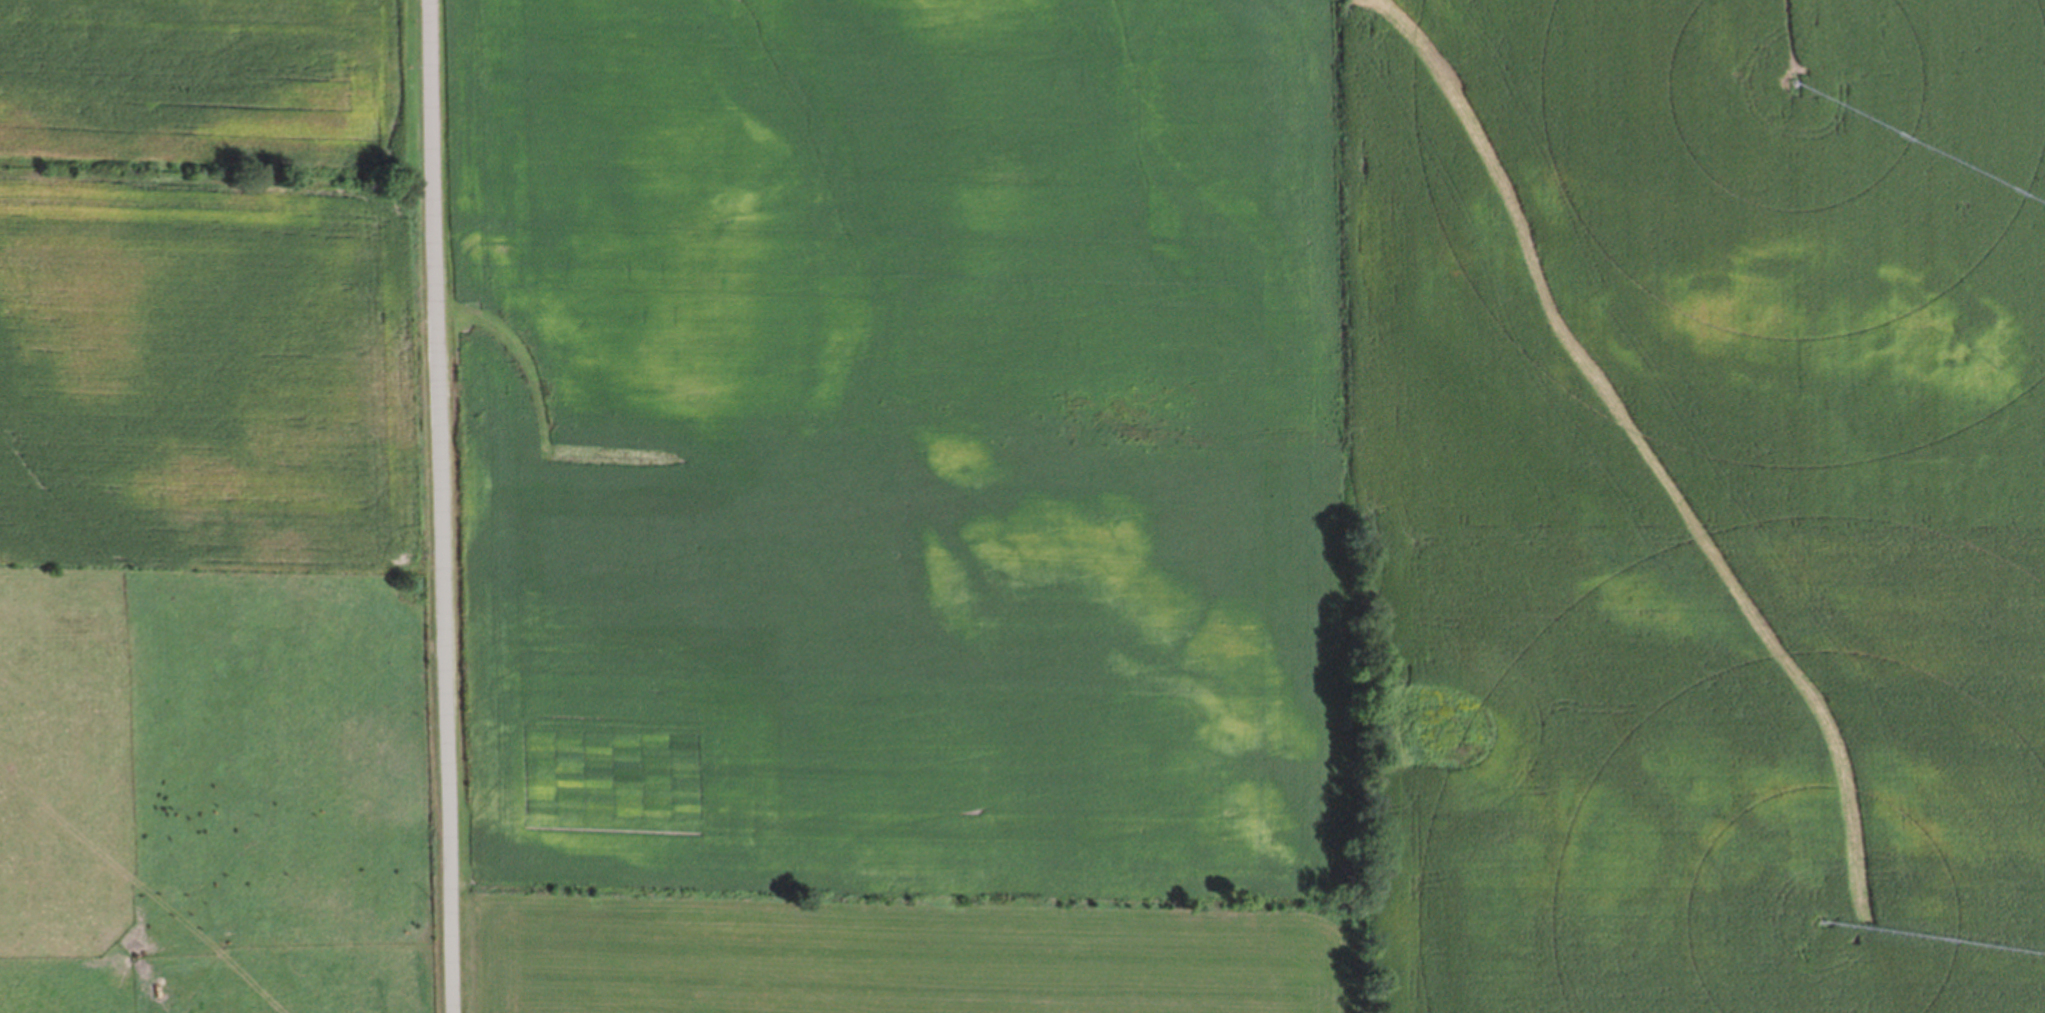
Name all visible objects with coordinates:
road: (433, 506)

